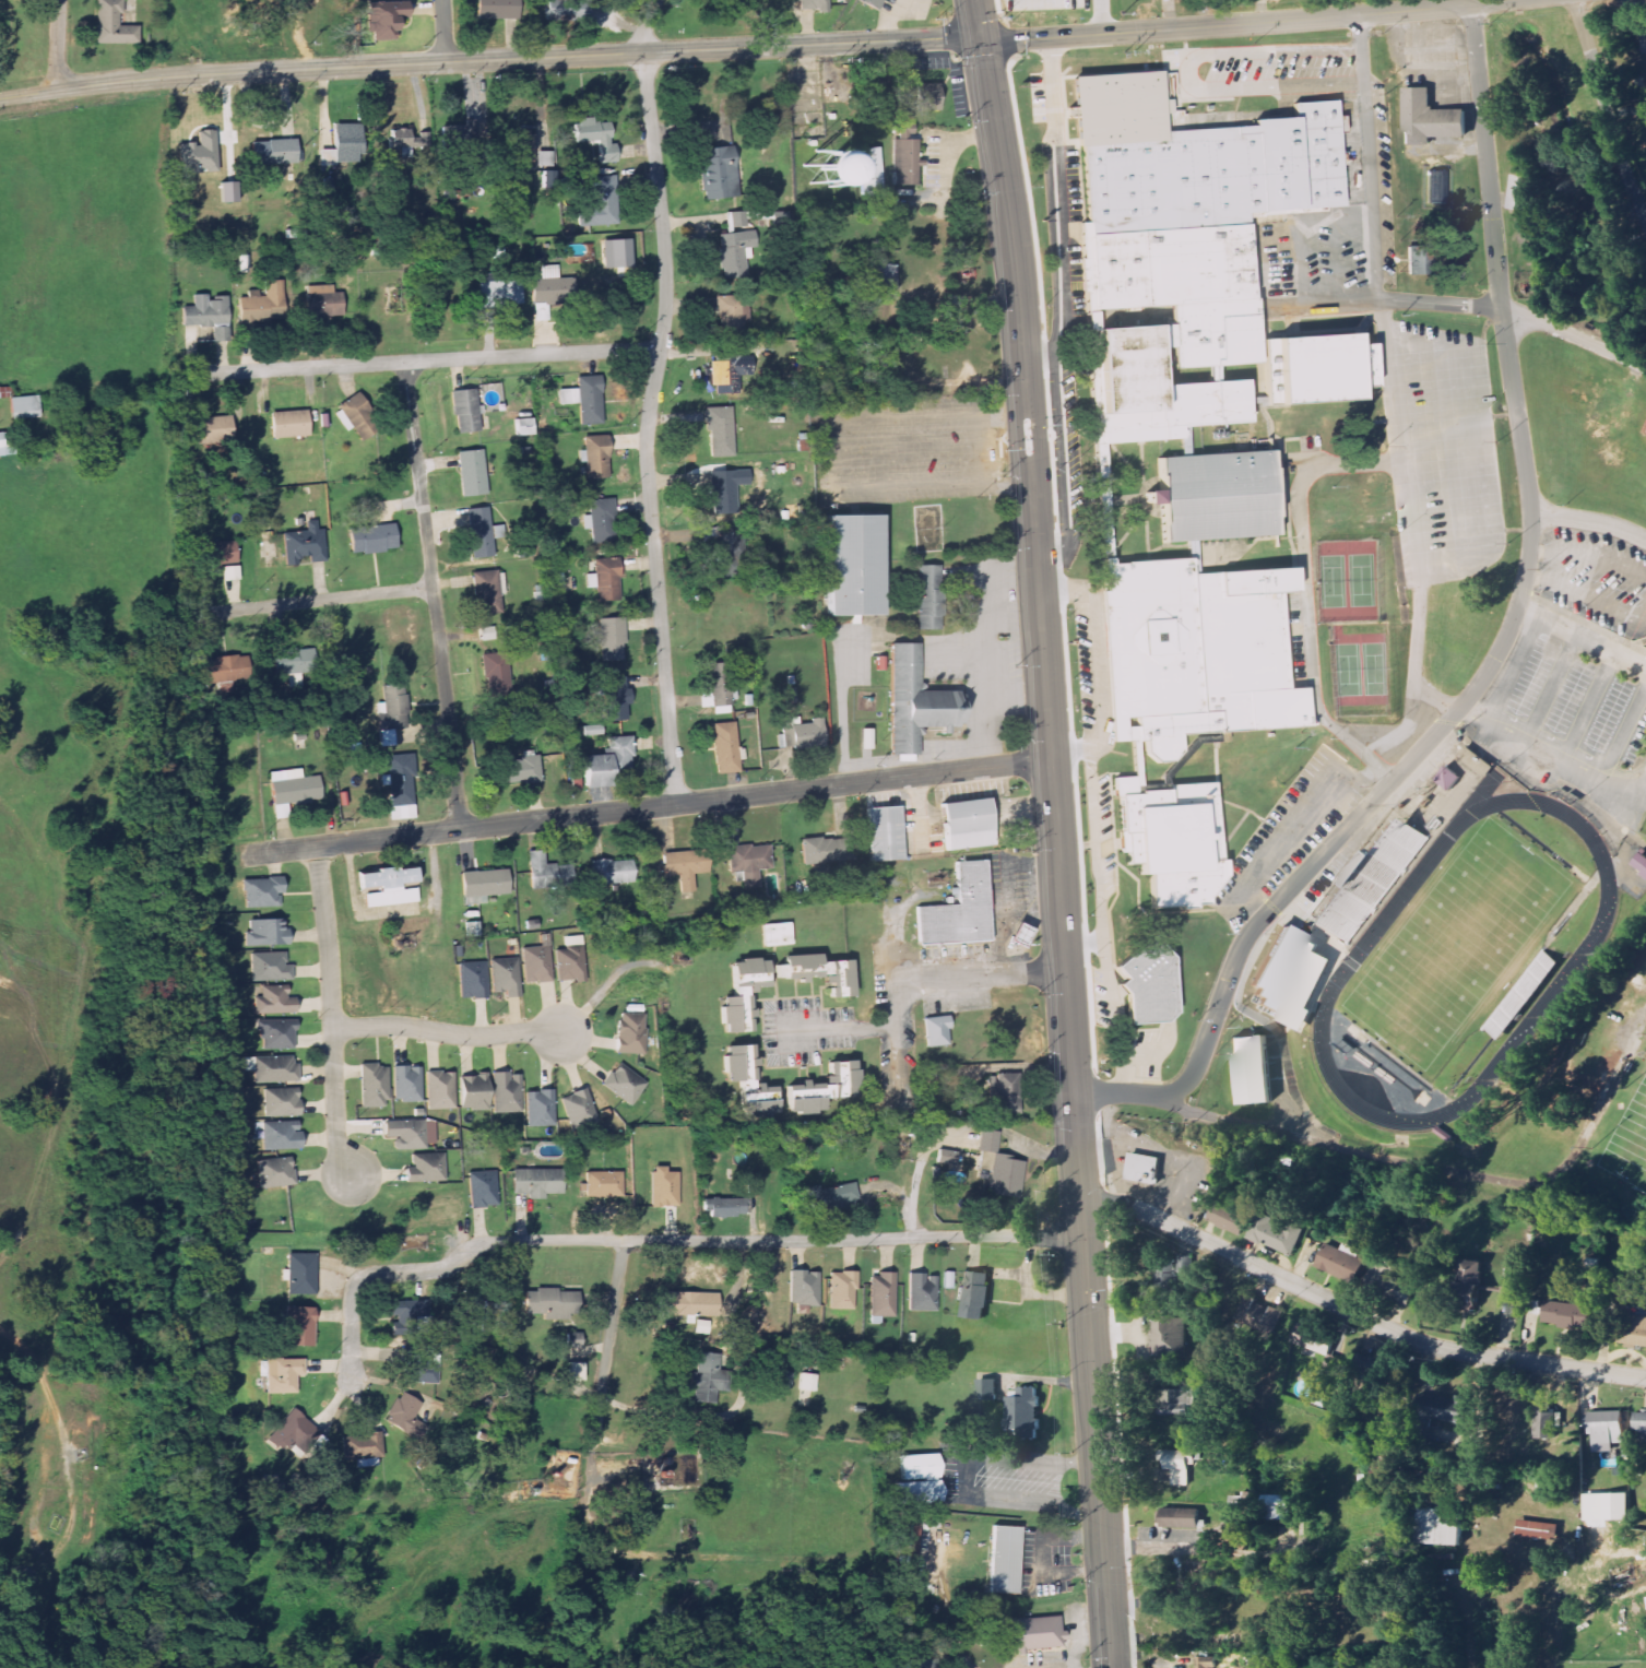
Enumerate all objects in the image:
building: (871, 3)
building: (814, 4)
building: (492, 9)
building: (567, 10)
building: (383, 17)
road: (976, 19)
road: (1238, 22)
building: (114, 24)
road: (647, 25)
road: (446, 31)
building: (1643, 40)
road: (58, 45)
road: (1075, 49)
road: (1218, 56)
road: (488, 60)
parking lot: (1281, 69)
building: (874, 88)
road: (1263, 90)
building: (926, 97)
road: (1365, 113)
road: (1604, 113)
building: (1426, 118)
building: (457, 133)
building: (594, 138)
building: (406, 141)
building: (341, 145)
building: (522, 147)
building: (273, 152)
parking lot: (1364, 152)
building: (199, 153)
building: (904, 155)
building: (542, 159)
water tower: (818, 167)
building: (871, 167)
building: (805, 168)
building: (718, 173)
building: (1436, 188)
building: (226, 192)
building: (1519, 193)
road: (1058, 201)
building: (599, 203)
building: (608, 242)
building: (734, 245)
building: (1181, 245)
road: (1374, 257)
building: (1417, 258)
road: (1336, 259)
road: (1300, 261)
parking lot: (1319, 261)
building: (884, 276)
building: (549, 293)
building: (500, 294)
building: (323, 301)
building: (262, 303)
road: (1280, 305)
building: (731, 314)
building: (208, 316)
road: (1574, 335)
road: (1041, 358)
road: (424, 362)
building: (1314, 369)
building: (730, 370)
building: (585, 400)
building: (23, 407)
building: (466, 411)
building: (354, 412)
building: (288, 424)
building: (212, 427)
building: (523, 427)
road: (650, 428)
building: (720, 431)
building: (1645, 431)
building: (1645, 434)
building: (1184, 441)
building: (7, 447)
parking lot: (1441, 450)
road: (1479, 452)
building: (596, 456)
road: (1444, 456)
road: (1064, 466)
building: (472, 473)
building: (723, 493)
building: (1215, 496)
road: (1411, 518)
building: (600, 521)
road: (1589, 522)
building: (481, 532)
building: (371, 540)
building: (304, 545)
building: (727, 552)
building: (216, 554)
road: (1589, 555)
building: (852, 567)
parking lot: (1595, 575)
building: (605, 579)
park: (1360, 580)
park: (1333, 581)
building: (486, 592)
road: (1306, 593)
road: (433, 595)
road: (1588, 596)
building: (926, 598)
road: (311, 602)
building: (486, 634)
road: (1582, 635)
building: (612, 639)
road: (987, 643)
road: (1092, 650)
road: (1499, 651)
building: (1193, 654)
road: (957, 655)
building: (288, 658)
road: (1511, 669)
building: (223, 670)
park: (1349, 670)
park: (1374, 670)
road: (1550, 687)
building: (718, 688)
building: (790, 696)
parking lot: (1573, 696)
road: (1017, 697)
building: (615, 698)
building: (914, 702)
road: (1589, 706)
building: (393, 708)
building: (592, 730)
road: (1402, 731)
road: (1624, 733)
building: (801, 734)
building: (725, 747)
road: (1069, 750)
road: (1556, 757)
building: (1475, 759)
building: (607, 764)
building: (520, 770)
building: (1447, 777)
building: (400, 786)
building: (293, 789)
road: (921, 805)
road: (1020, 806)
road: (654, 807)
road: (964, 813)
building: (966, 826)
road: (1295, 830)
building: (883, 833)
parking lot: (1289, 835)
building: (1172, 839)
building: (819, 850)
road: (1056, 851)
building: (749, 862)
building: (1360, 864)
building: (1639, 864)
building: (685, 865)
building: (547, 872)
building: (614, 872)
building: (1375, 878)
building: (485, 883)
building: (389, 886)
building: (261, 892)
road: (1233, 903)
building: (658, 908)
building: (958, 909)
road: (1101, 923)
building: (473, 928)
building: (265, 932)
building: (777, 934)
building: (1018, 934)
gas station: (1018, 934)
road: (1302, 935)
park: (1459, 942)
road: (1082, 944)
road: (892, 946)
stadium: (1449, 946)
track: (1587, 946)
building: (571, 963)
building: (537, 965)
building: (270, 967)
building: (818, 972)
building: (1293, 974)
road: (992, 975)
building: (506, 977)
building: (473, 979)
building: (1147, 982)
building: (1520, 993)
building: (741, 994)
building: (274, 1001)
road: (333, 1012)
road: (875, 1027)
building: (935, 1031)
building: (276, 1033)
building: (631, 1033)
road: (447, 1034)
road: (1156, 1049)
parking lot: (1139, 1051)
road: (899, 1064)
building: (274, 1068)
building: (1253, 1069)
building: (747, 1081)
building: (406, 1084)
building: (625, 1084)
building: (374, 1086)
building: (822, 1089)
road: (1279, 1089)
building: (440, 1090)
building: (473, 1091)
building: (507, 1091)
building: (1003, 1093)
building: (281, 1102)
building: (578, 1104)
road: (1174, 1107)
building: (541, 1108)
road: (48, 1120)
building: (406, 1133)
building: (280, 1134)
building: (945, 1157)
road: (1191, 1164)
building: (999, 1167)
building: (426, 1168)
building: (1142, 1168)
building: (274, 1171)
road: (1460, 1174)
building: (536, 1182)
building: (604, 1184)
building: (663, 1187)
building: (751, 1187)
building: (483, 1190)
building: (829, 1196)
building: (723, 1207)
building: (1227, 1218)
building: (1277, 1233)
road: (774, 1242)
building: (1339, 1263)
building: (1185, 1264)
building: (300, 1274)
road: (368, 1276)
building: (1467, 1282)
building: (1394, 1285)
building: (803, 1288)
building: (842, 1290)
building: (922, 1292)
building: (881, 1294)
building: (975, 1296)
building: (550, 1303)
building: (690, 1303)
building: (1532, 1306)
building: (1558, 1313)
building: (1258, 1314)
road: (1355, 1314)
building: (407, 1315)
building: (298, 1326)
building: (1629, 1327)
building: (1171, 1337)
building: (1312, 1339)
building: (572, 1340)
road: (607, 1342)
building: (419, 1364)
building: (1364, 1365)
building: (575, 1373)
building: (282, 1375)
building: (704, 1377)
building: (784, 1380)
building: (809, 1382)
road: (45, 1386)
building: (985, 1389)
building: (1176, 1401)
building: (1022, 1412)
building: (1435, 1412)
building: (405, 1416)
building: (1546, 1422)
building: (1639, 1423)
building: (1606, 1428)
building: (293, 1432)
building: (363, 1451)
building: (1179, 1465)
building: (1378, 1469)
road: (596, 1470)
building: (917, 1480)
building: (1276, 1507)
building: (1606, 1507)
building: (1177, 1518)
building: (1438, 1527)
building: (1533, 1529)
building: (904, 1547)
road: (608, 1550)
road: (46, 1555)
building: (1004, 1559)
road: (946, 1599)
road: (614, 1608)
building: (1029, 1634)
building: (1206, 1661)
building: (917, 1664)

